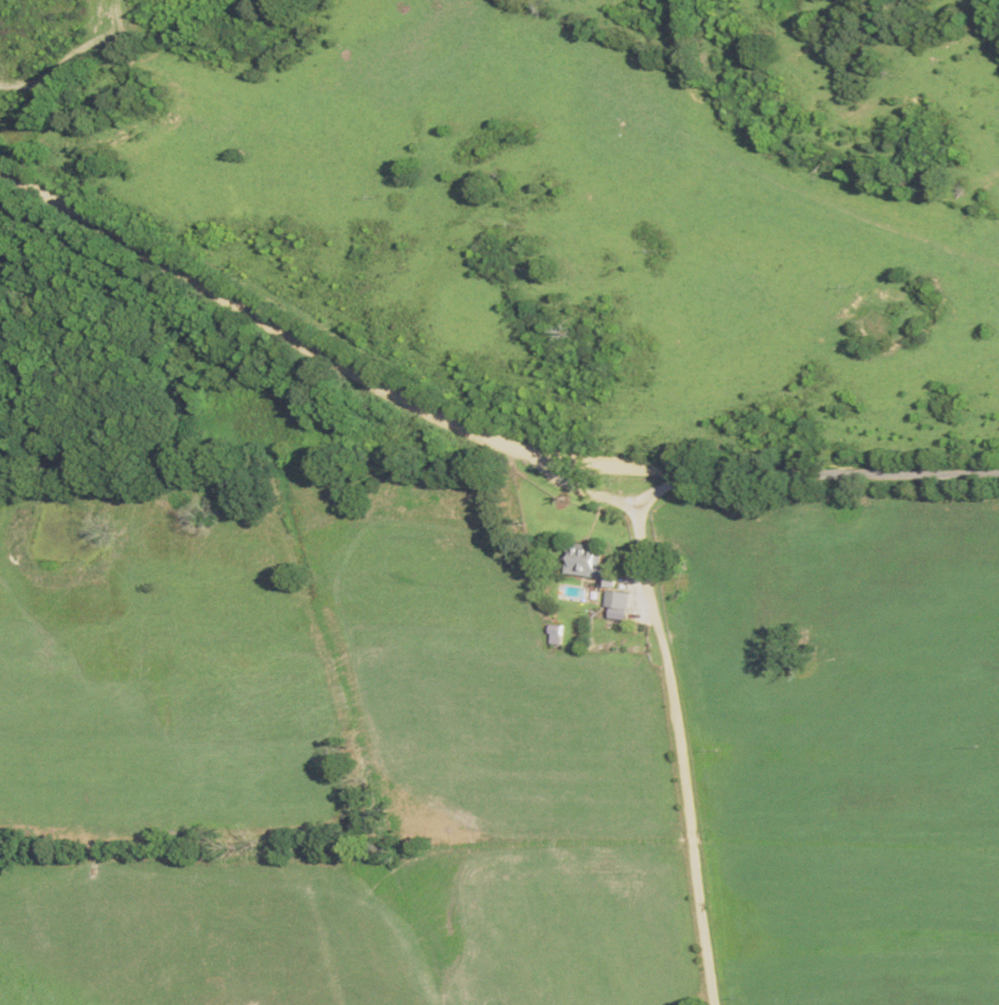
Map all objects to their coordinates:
road: (467, 425)
building: (588, 562)
building: (617, 603)
building: (555, 633)

